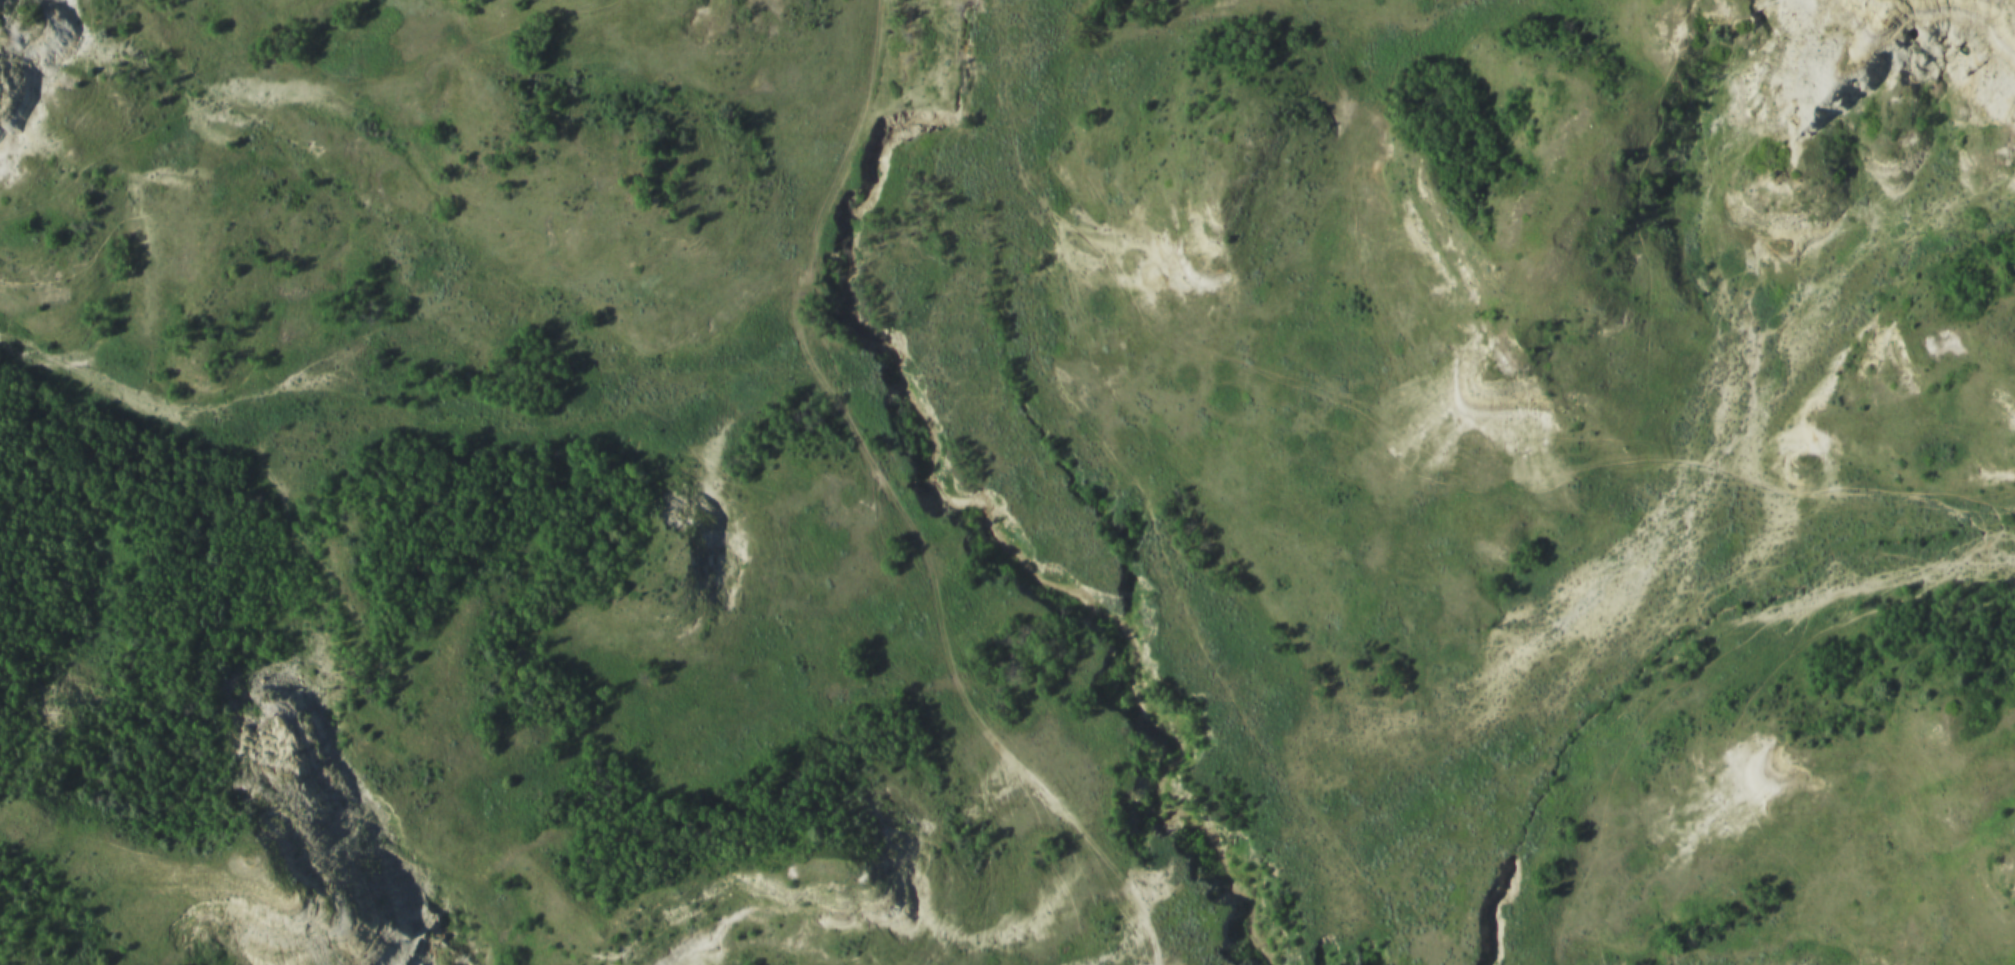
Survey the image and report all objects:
road: (402, 428)
road: (901, 502)

